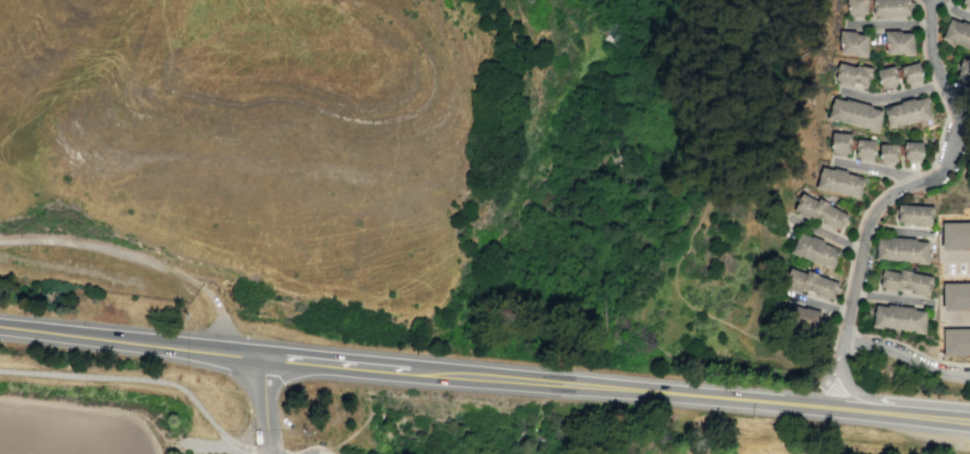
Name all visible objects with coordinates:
building: (965, 2)
building: (856, 7)
building: (891, 8)
road: (955, 9)
road: (910, 21)
building: (957, 36)
building: (853, 42)
building: (898, 42)
building: (910, 72)
building: (963, 73)
building: (852, 74)
building: (887, 75)
road: (891, 93)
building: (907, 112)
building: (855, 113)
building: (840, 143)
building: (864, 148)
building: (912, 151)
building: (888, 152)
road: (873, 165)
road: (925, 177)
building: (839, 181)
building: (819, 211)
building: (913, 212)
road: (897, 228)
road: (824, 231)
building: (955, 235)
road: (101, 244)
building: (902, 249)
building: (815, 250)
road: (957, 254)
parking lot: (954, 261)
building: (905, 281)
building: (810, 282)
road: (676, 289)
road: (859, 294)
building: (956, 295)
road: (891, 297)
road: (817, 301)
road: (219, 311)
road: (645, 313)
road: (955, 315)
building: (899, 316)
building: (801, 317)
road: (43, 334)
road: (898, 341)
building: (956, 341)
road: (173, 345)
road: (839, 351)
road: (906, 352)
road: (355, 363)
road: (145, 379)
road: (547, 379)
road: (817, 388)
road: (895, 399)
road: (265, 403)
road: (806, 403)
road: (90, 411)
crop: (75, 428)
power tower: (307, 430)
road: (212, 449)
road: (287, 453)

